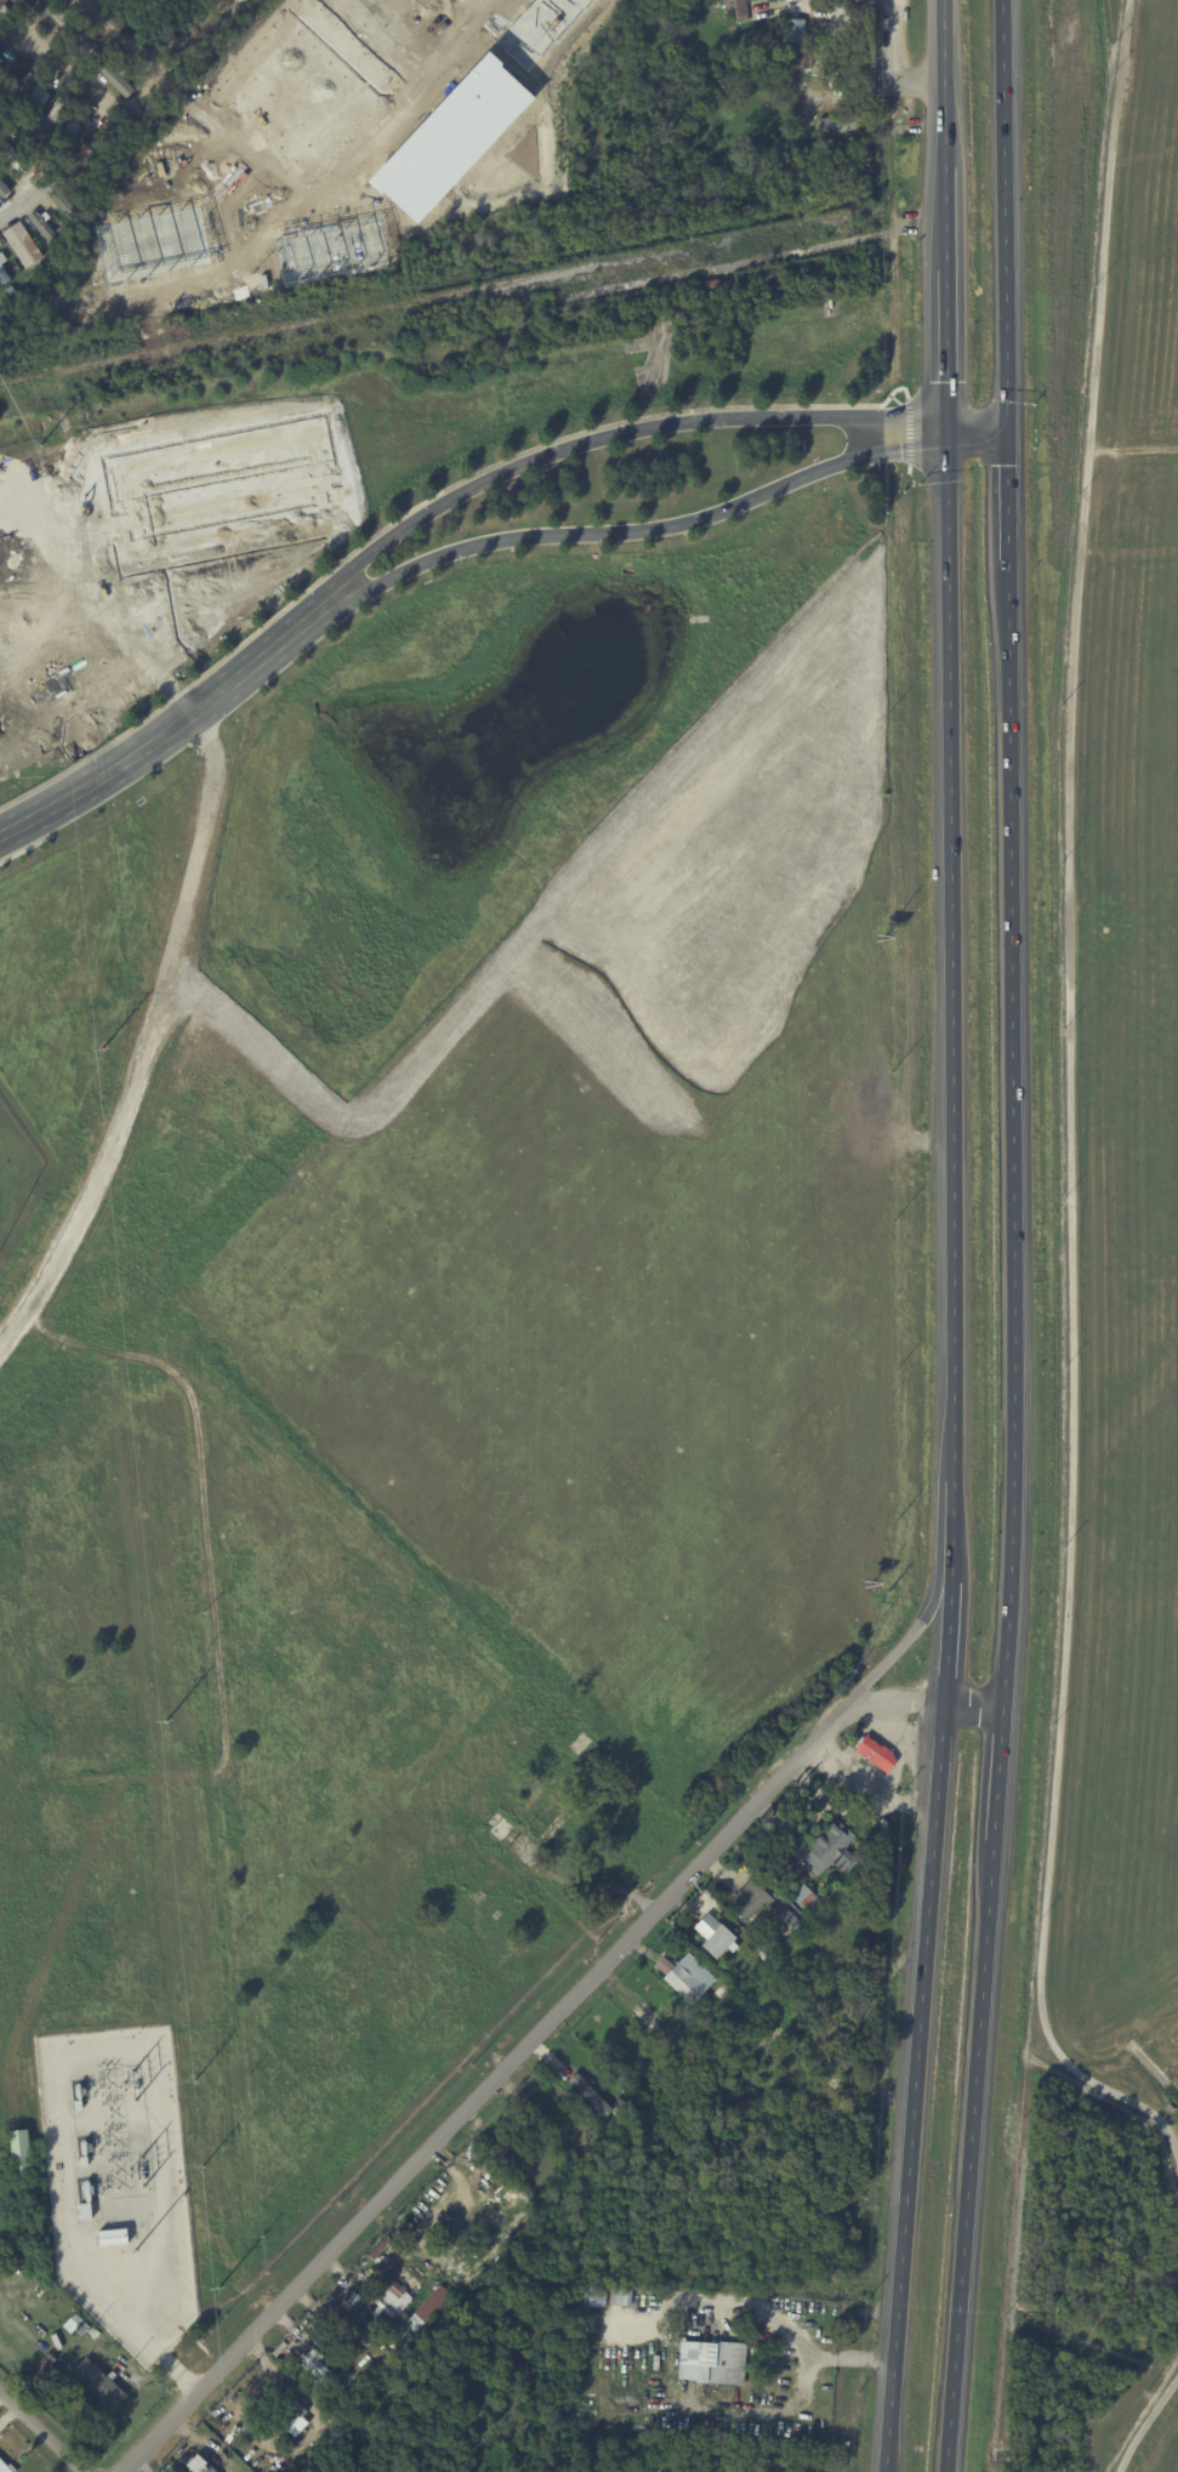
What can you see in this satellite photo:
building: (871, 2)
building: (341, 6)
building: (734, 7)
building: (61, 15)
building: (846, 16)
building: (306, 21)
road: (416, 29)
building: (796, 32)
road: (119, 39)
building: (267, 39)
building: (238, 50)
building: (802, 58)
building: (854, 59)
building: (260, 72)
building: (115, 79)
building: (13, 81)
building: (869, 82)
road: (187, 104)
building: (28, 107)
building: (53, 116)
building: (883, 118)
building: (838, 125)
building: (73, 131)
building: (13, 156)
building: (89, 156)
building: (114, 169)
building: (167, 169)
road: (252, 173)
building: (2, 181)
building: (217, 181)
road: (171, 183)
building: (4, 188)
road: (320, 200)
road: (226, 203)
road: (22, 205)
building: (68, 205)
building: (118, 206)
road: (945, 213)
building: (45, 224)
building: (25, 245)
building: (340, 246)
building: (5, 279)
building: (710, 284)
road: (1094, 357)
traffic signals: (1003, 423)
road: (975, 425)
traffic signals: (947, 427)
road: (597, 438)
road: (1132, 449)
road: (898, 450)
road: (571, 534)
road: (158, 736)
road: (148, 1042)
airport: (1119, 1162)
road: (1009, 1236)
road: (951, 1449)
road: (909, 1633)
road: (969, 1702)
road: (1070, 1709)
building: (875, 1752)
road: (873, 1777)
building: (829, 1847)
building: (804, 1897)
building: (749, 1898)
building: (787, 1919)
building: (715, 1935)
building: (776, 1942)
building: (766, 1955)
building: (684, 1975)
building: (724, 1992)
building: (651, 2020)
road: (507, 2055)
building: (588, 2094)
building: (558, 2097)
building: (78, 2103)
building: (545, 2121)
building: (19, 2151)
building: (82, 2160)
power substation: (119, 2182)
building: (434, 2186)
building: (112, 2234)
building: (181, 2267)
building: (397, 2290)
building: (598, 2295)
building: (622, 2296)
building: (434, 2306)
building: (388, 2309)
road: (662, 2317)
building: (76, 2322)
building: (406, 2323)
building: (86, 2330)
building: (96, 2334)
building: (732, 2365)
building: (318, 2369)
building: (46, 2370)
building: (102, 2383)
building: (329, 2400)
building: (343, 2400)
building: (292, 2417)
airport: (1153, 2432)
road: (39, 2433)
building: (198, 2462)
building: (6, 2466)
building: (273, 2467)
building: (218, 2471)

